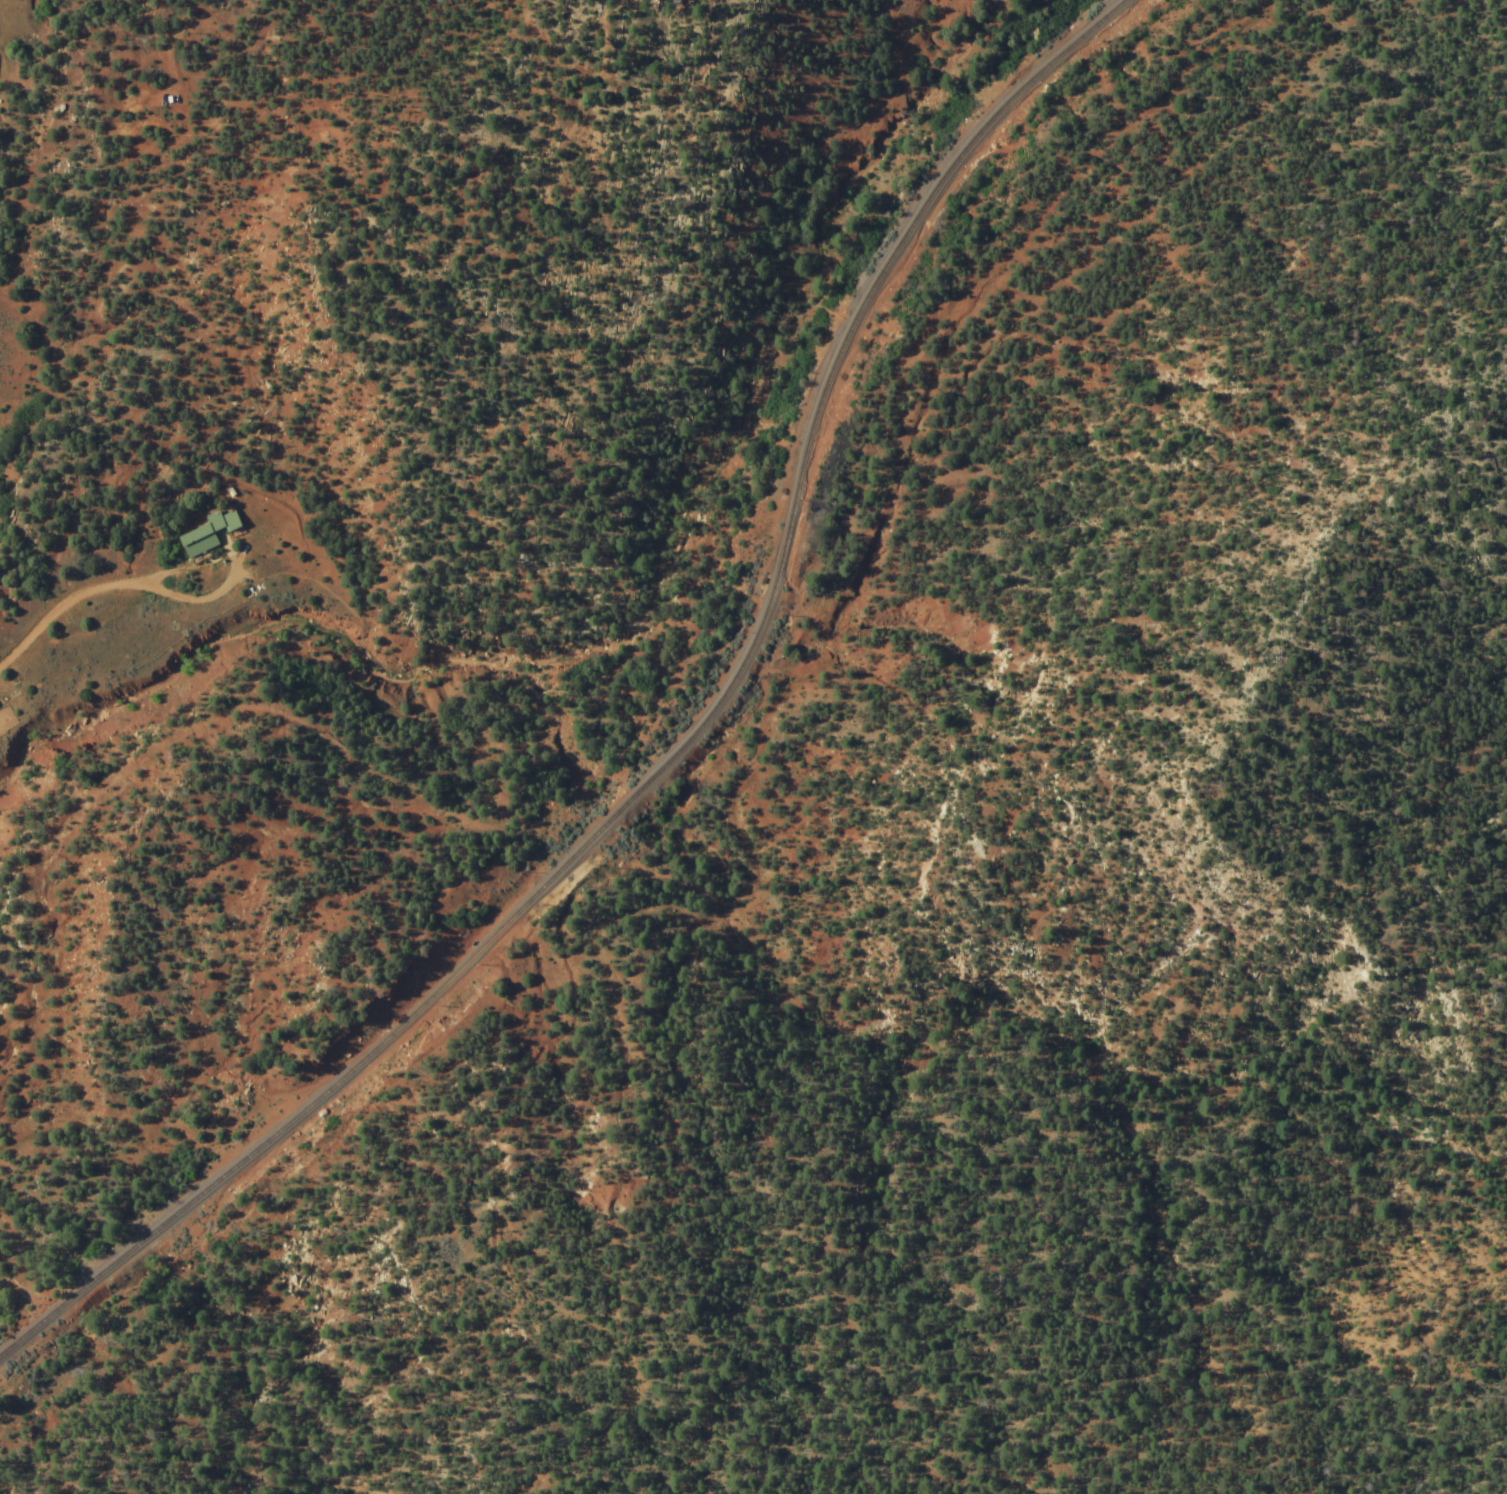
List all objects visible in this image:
building: (652, 0)
building: (207, 534)
railway: (671, 756)
building: (261, 1147)

